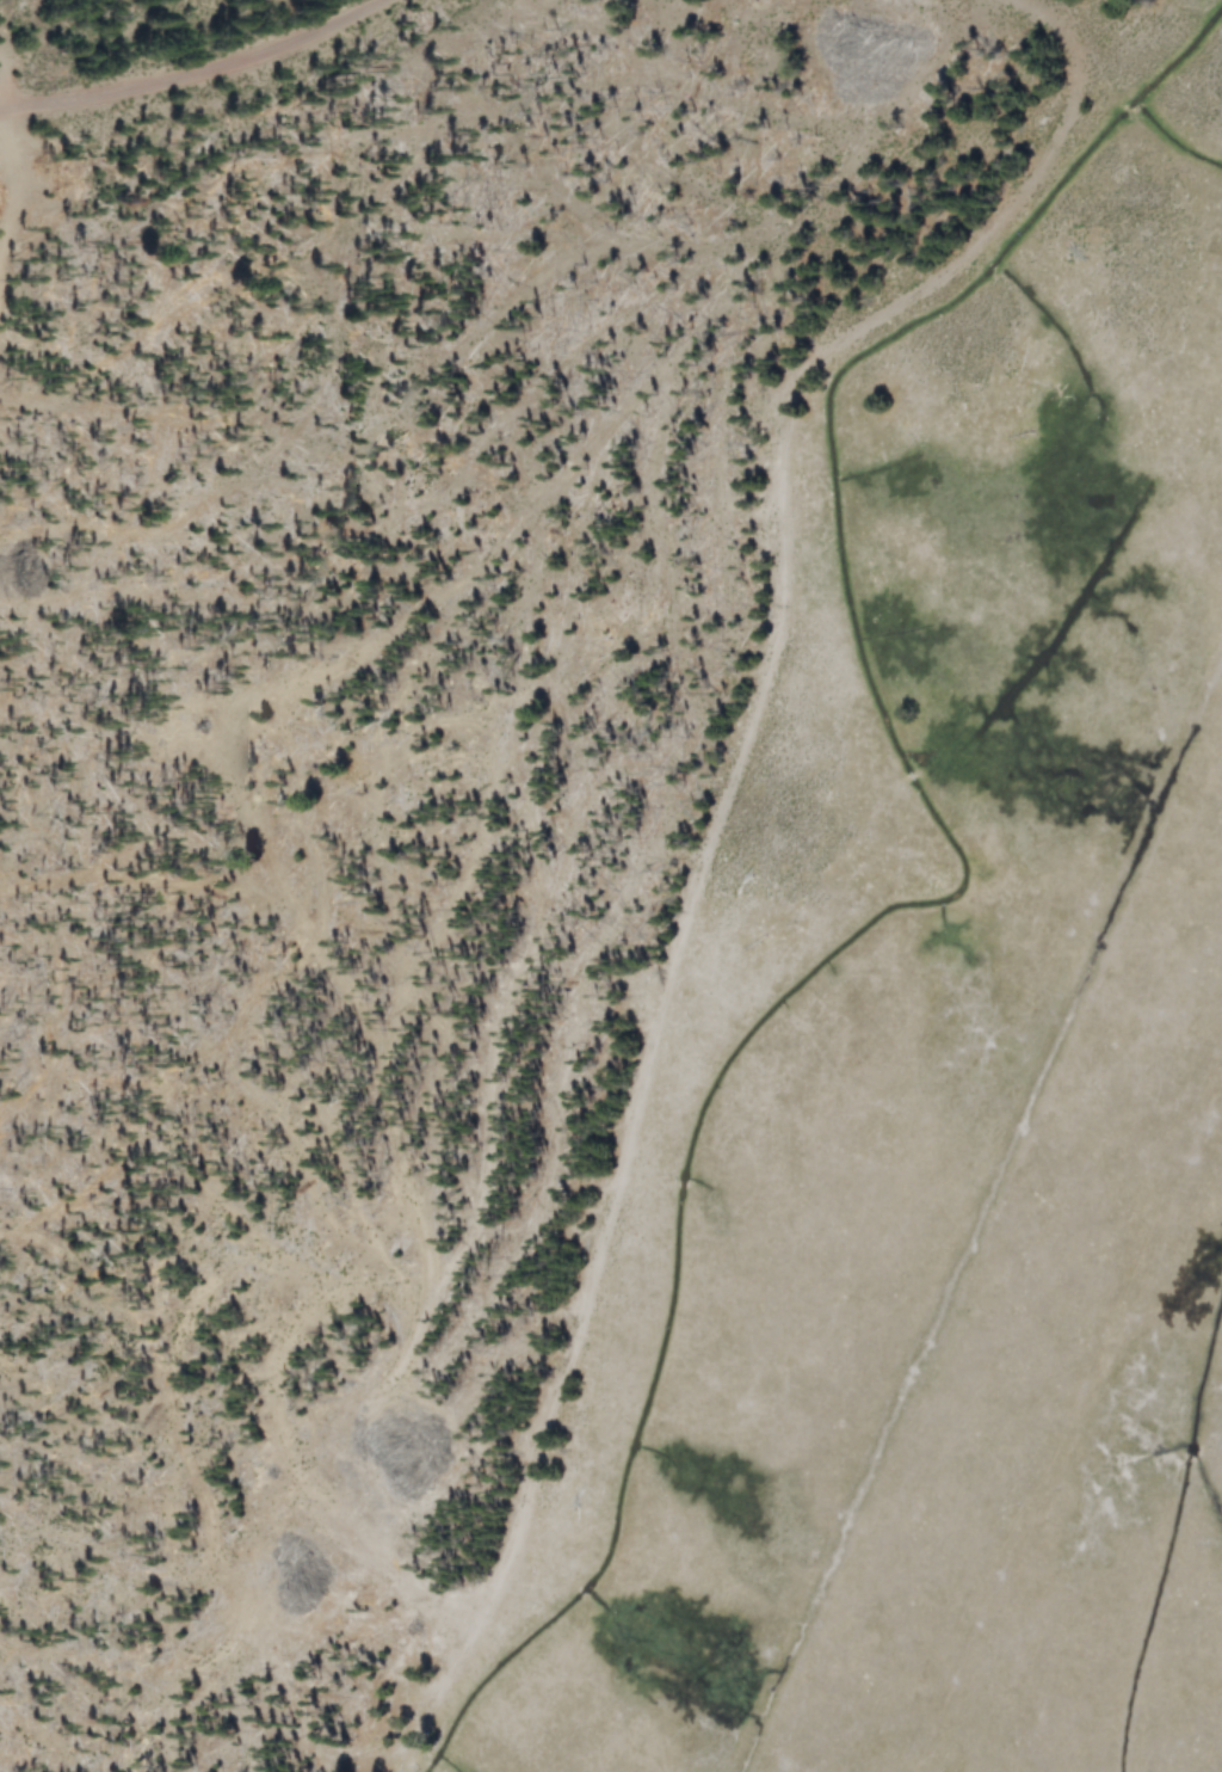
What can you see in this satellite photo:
road: (195, 70)

